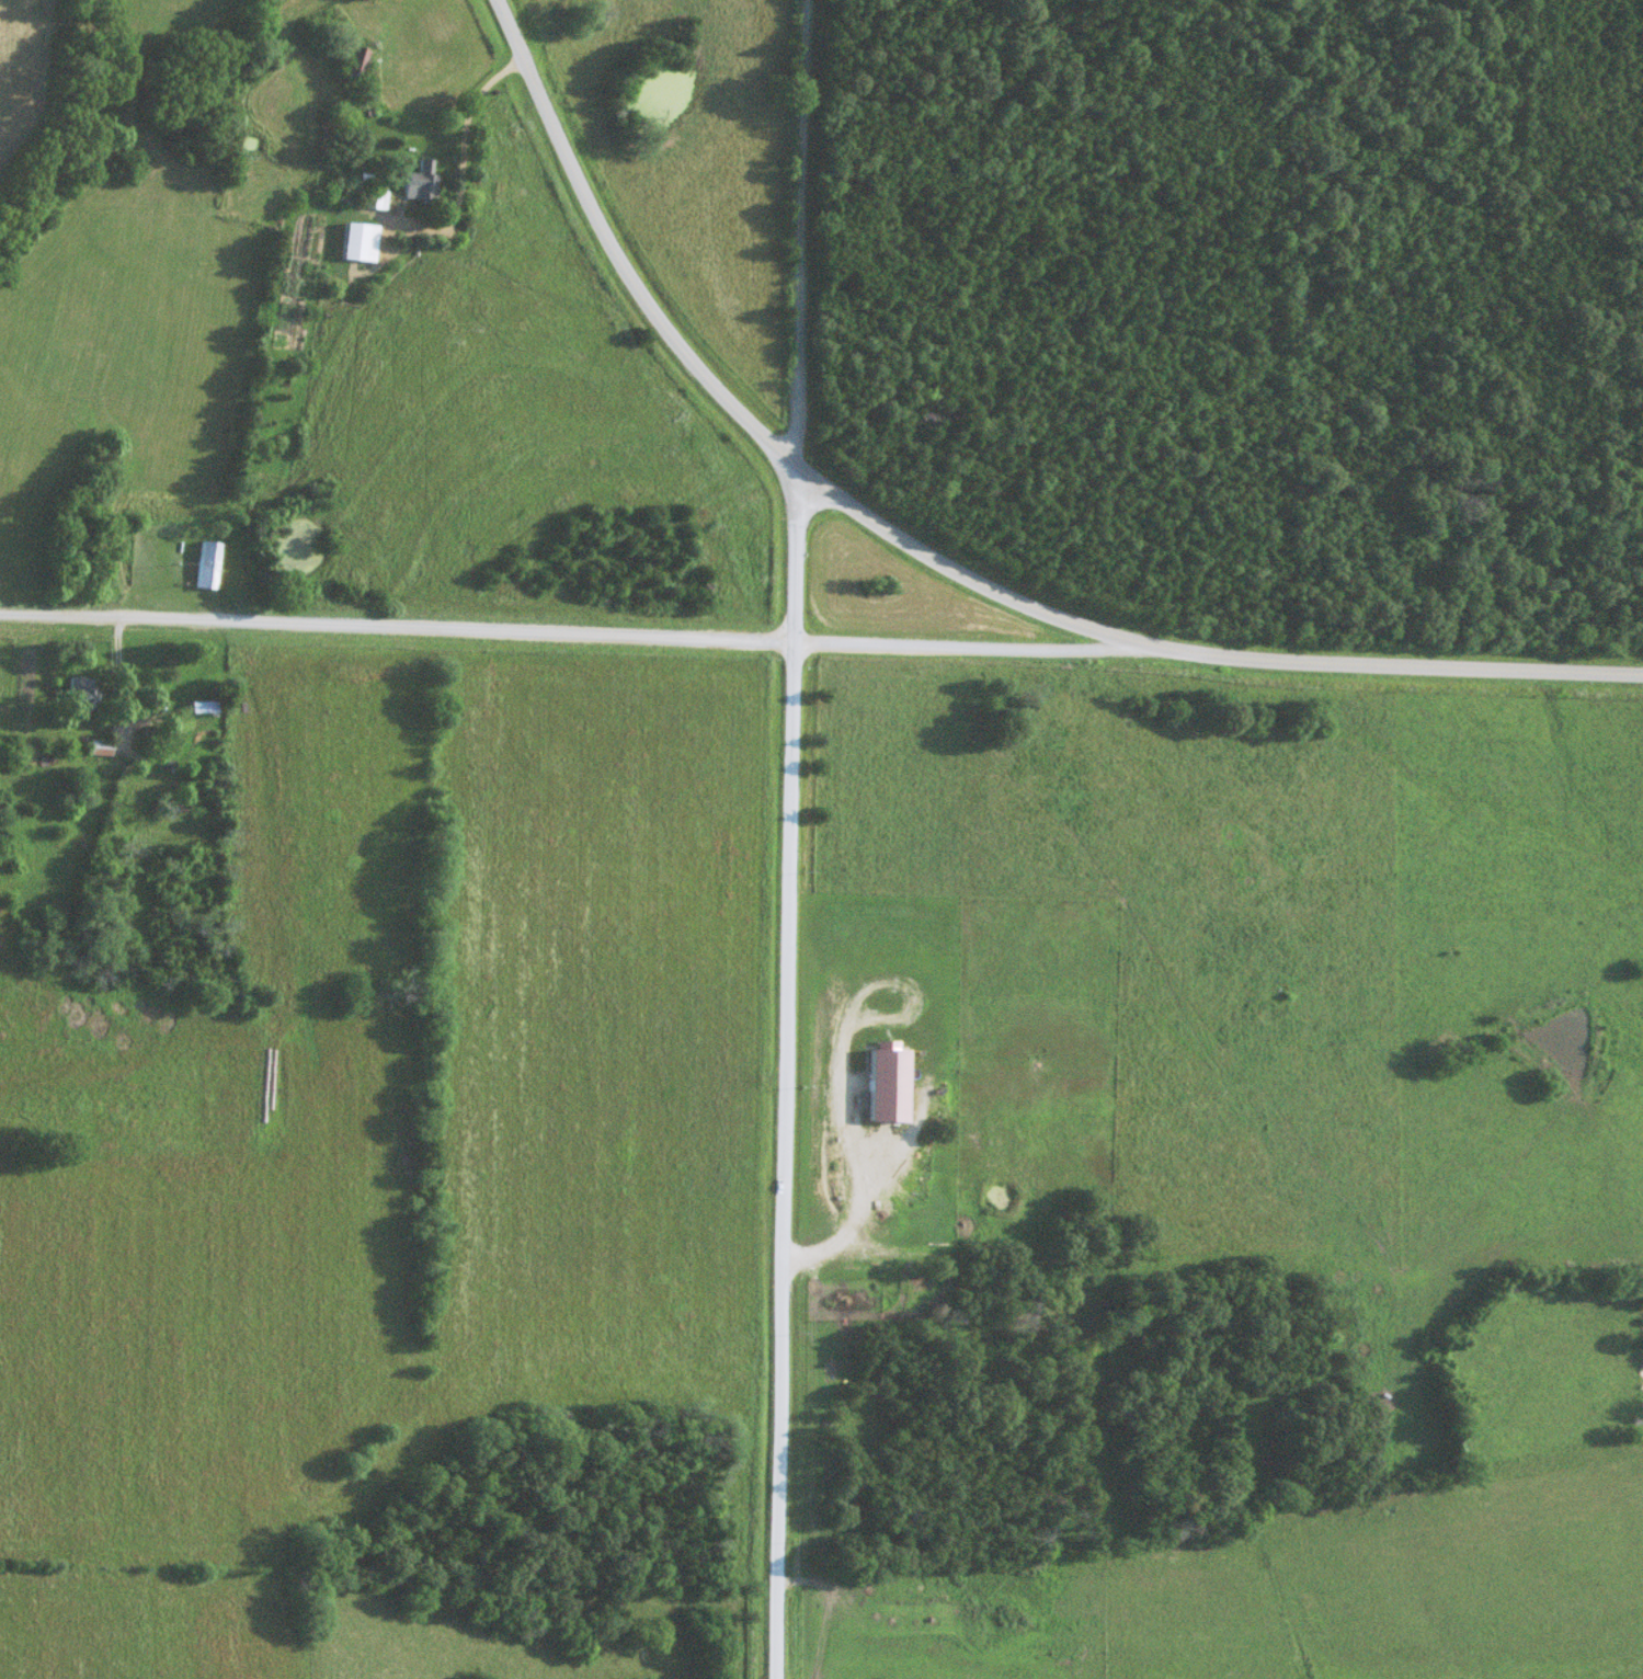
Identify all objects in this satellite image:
building: (356, 65)
building: (424, 183)
building: (379, 201)
road: (802, 238)
building: (363, 243)
road: (303, 261)
road: (935, 557)
building: (212, 567)
road: (573, 631)
building: (83, 695)
road: (125, 712)
building: (101, 749)
road: (790, 1077)

